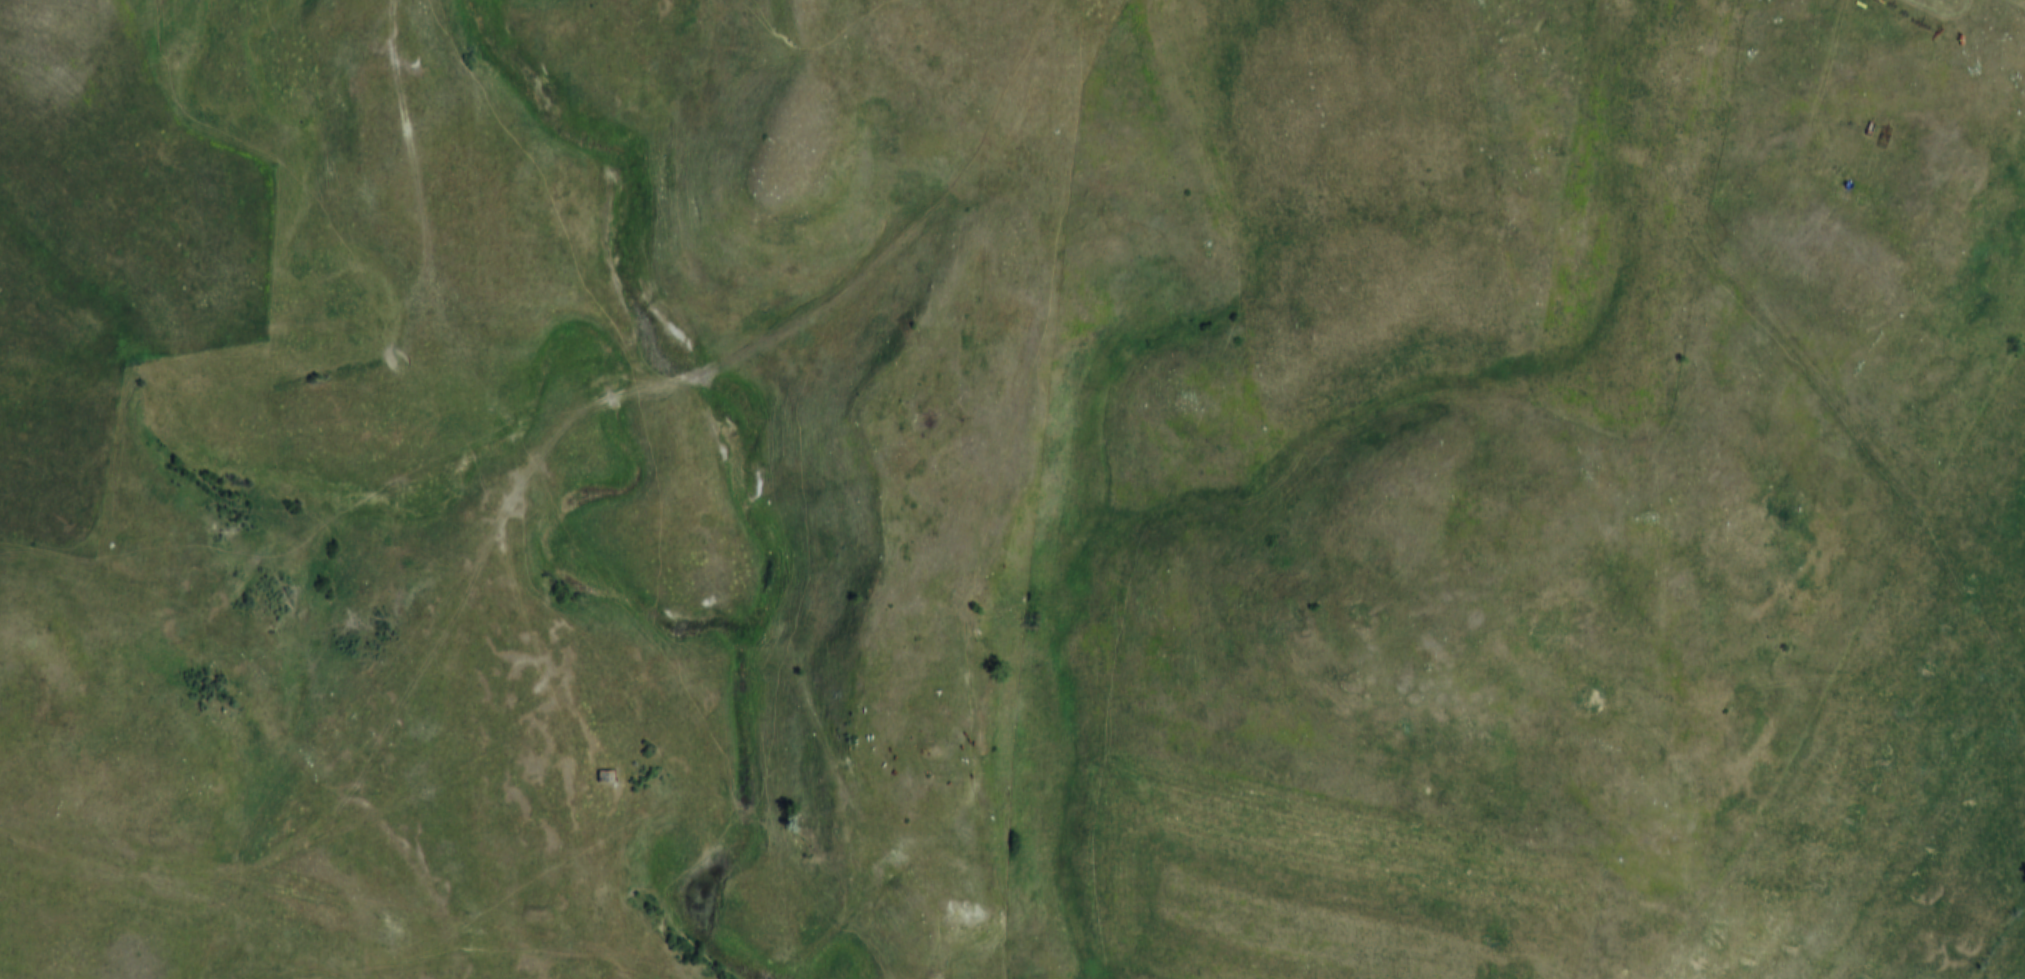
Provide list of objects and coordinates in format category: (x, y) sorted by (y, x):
road: (494, 390)
building: (606, 775)

